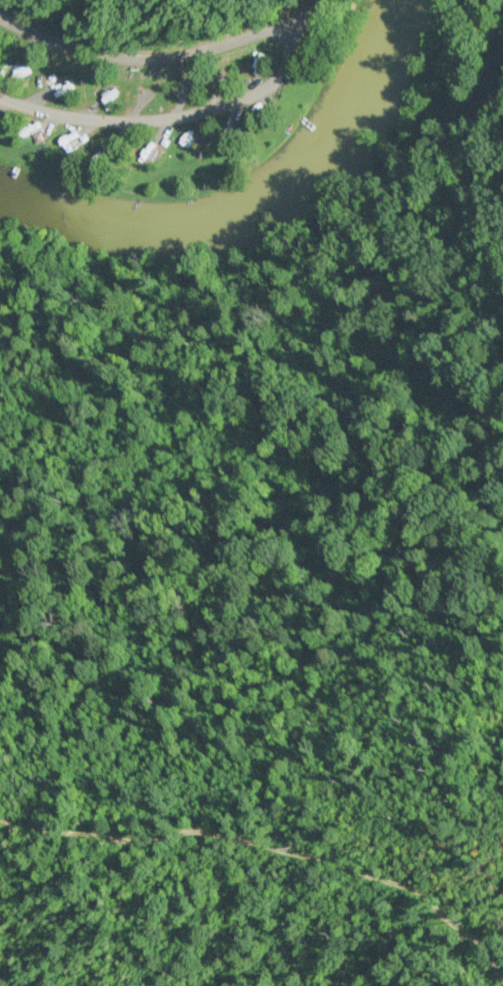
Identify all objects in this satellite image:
road: (162, 47)
road: (169, 118)
river: (253, 202)

